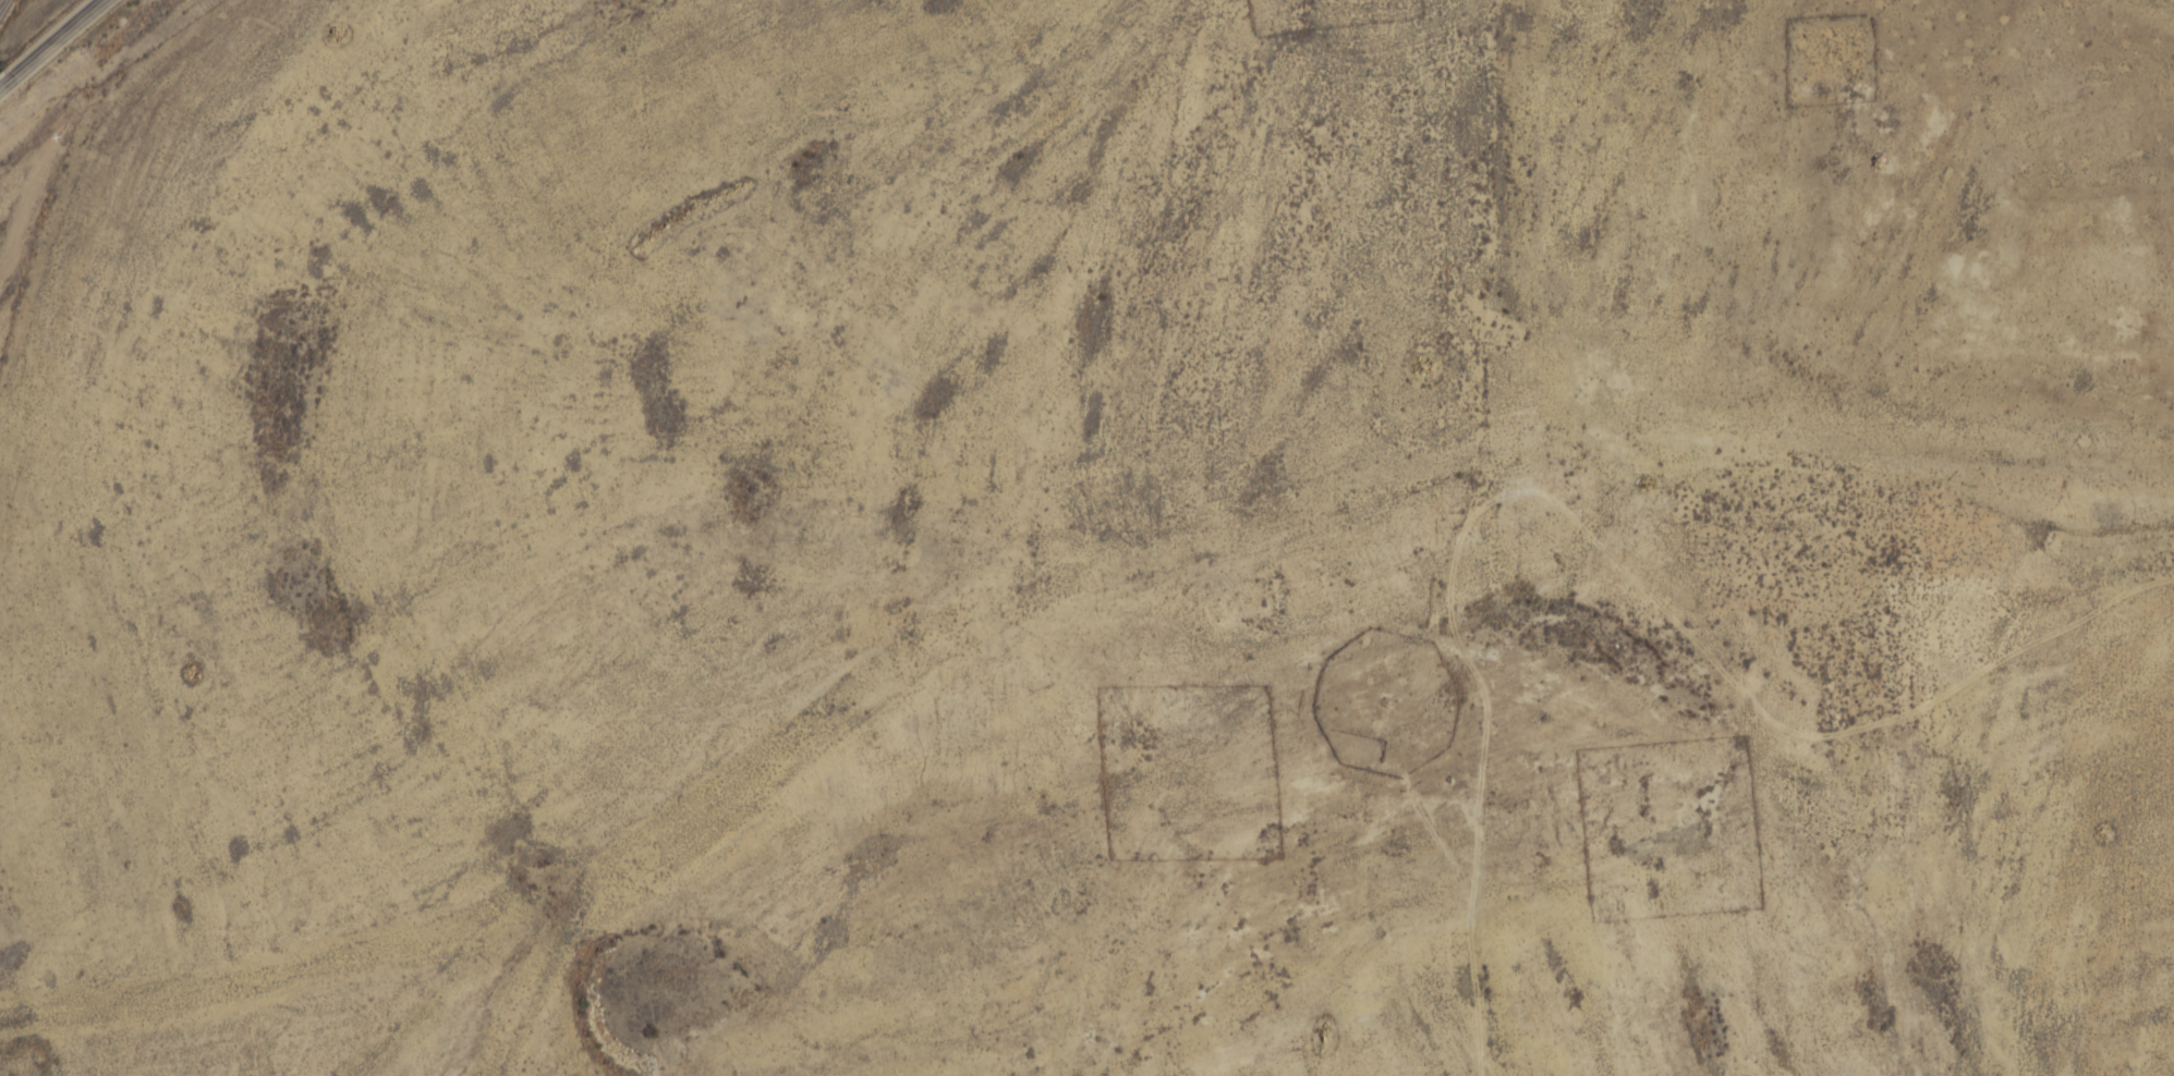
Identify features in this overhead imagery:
road: (0, 1)
road: (54, 39)
road: (4, 83)
road: (37, 276)
road: (1485, 710)
road: (1826, 734)

